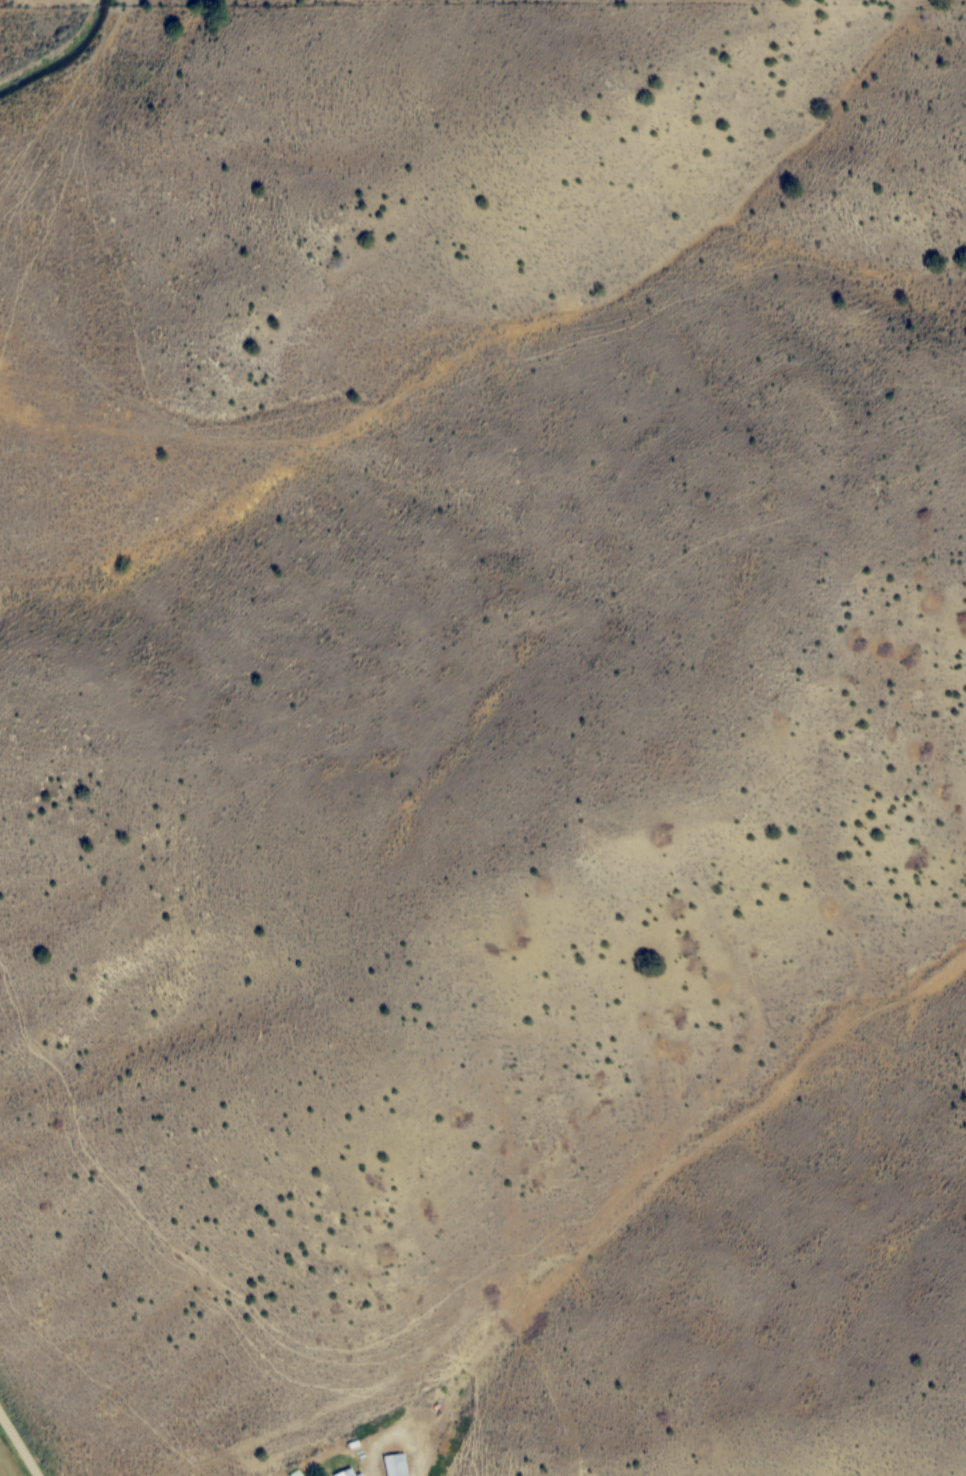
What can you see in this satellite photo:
road: (21, 1440)
building: (397, 1465)
building: (347, 1473)

